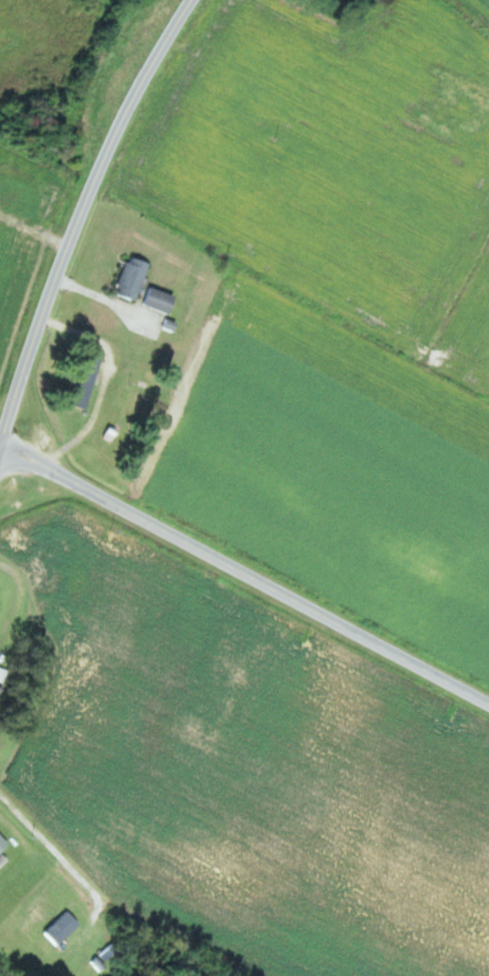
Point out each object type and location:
road: (77, 220)
building: (128, 278)
building: (157, 299)
building: (80, 381)
road: (247, 572)
building: (2, 676)
building: (2, 843)
building: (59, 928)

